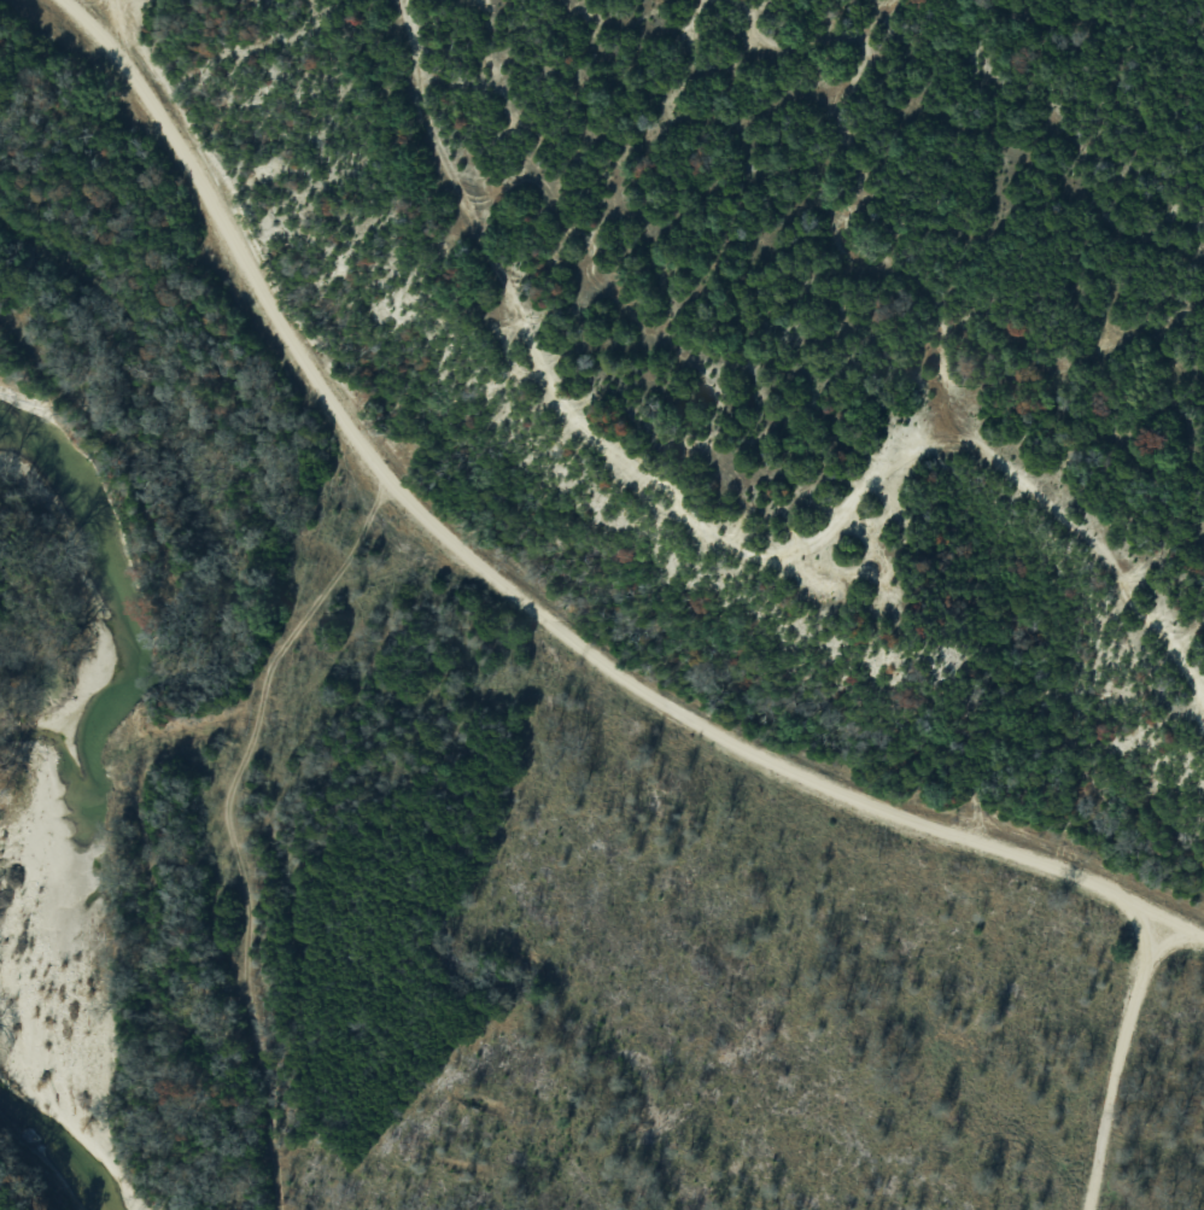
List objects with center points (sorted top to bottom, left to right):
river: (123, 597)
road: (514, 602)
road: (1109, 1058)
river: (54, 1148)

